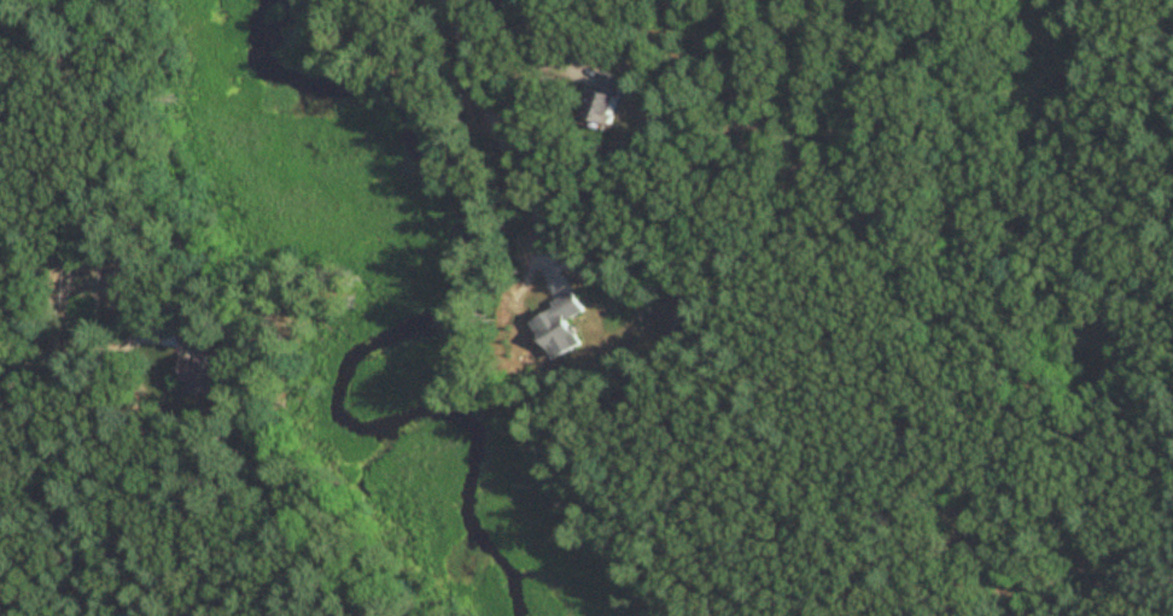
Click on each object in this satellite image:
road: (547, 36)
road: (503, 124)
road: (914, 307)
building: (558, 328)
building: (192, 341)
road: (76, 351)
building: (203, 374)

